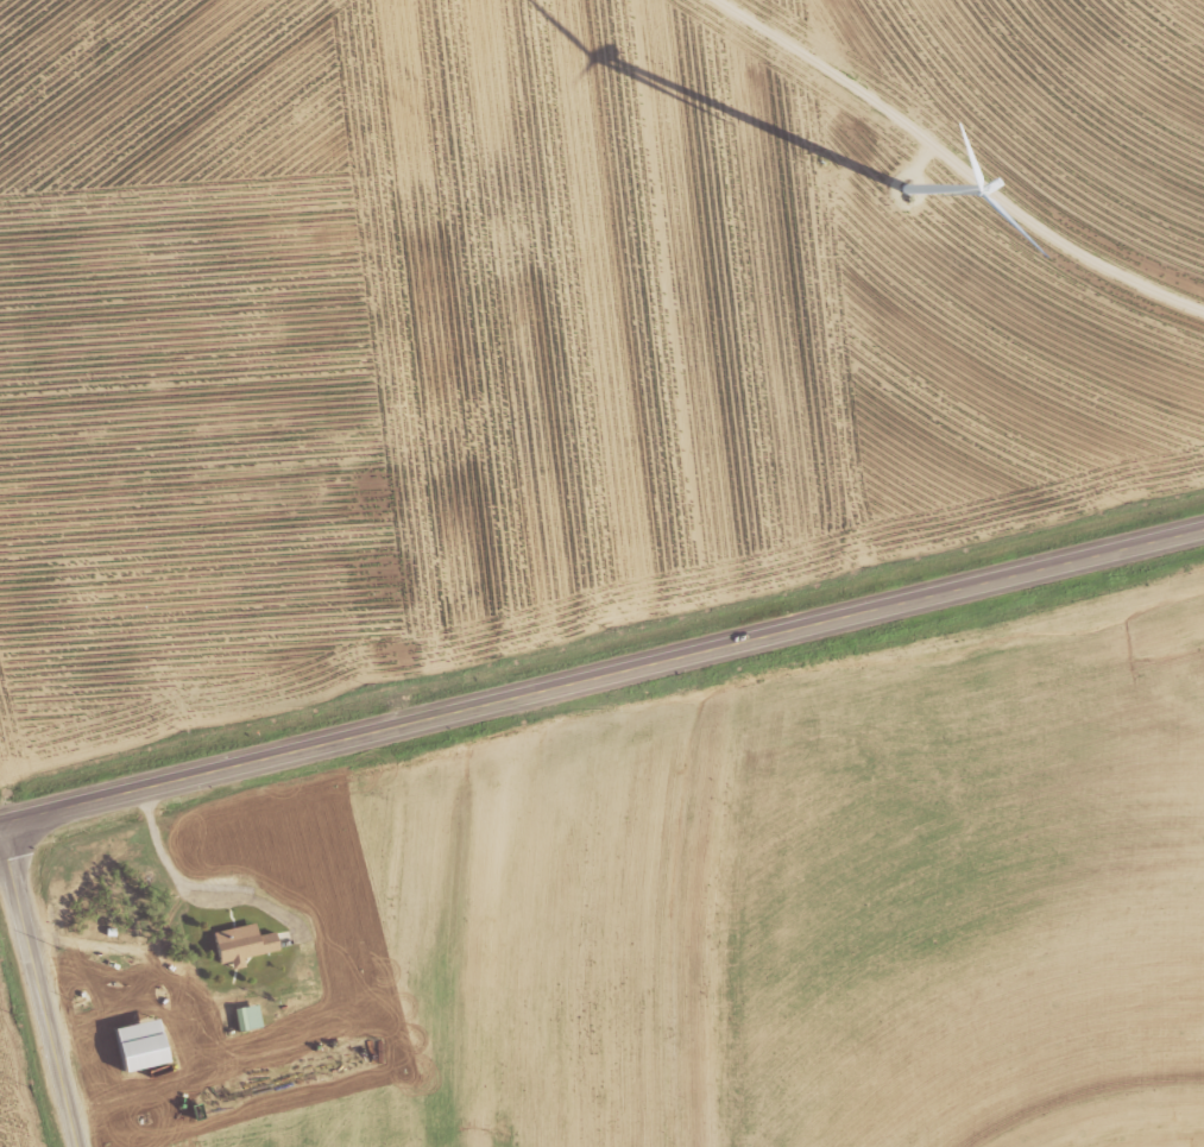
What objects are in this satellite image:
road: (957, 163)
wind turbine: (931, 182)
road: (601, 670)
road: (42, 982)
building: (145, 1044)

